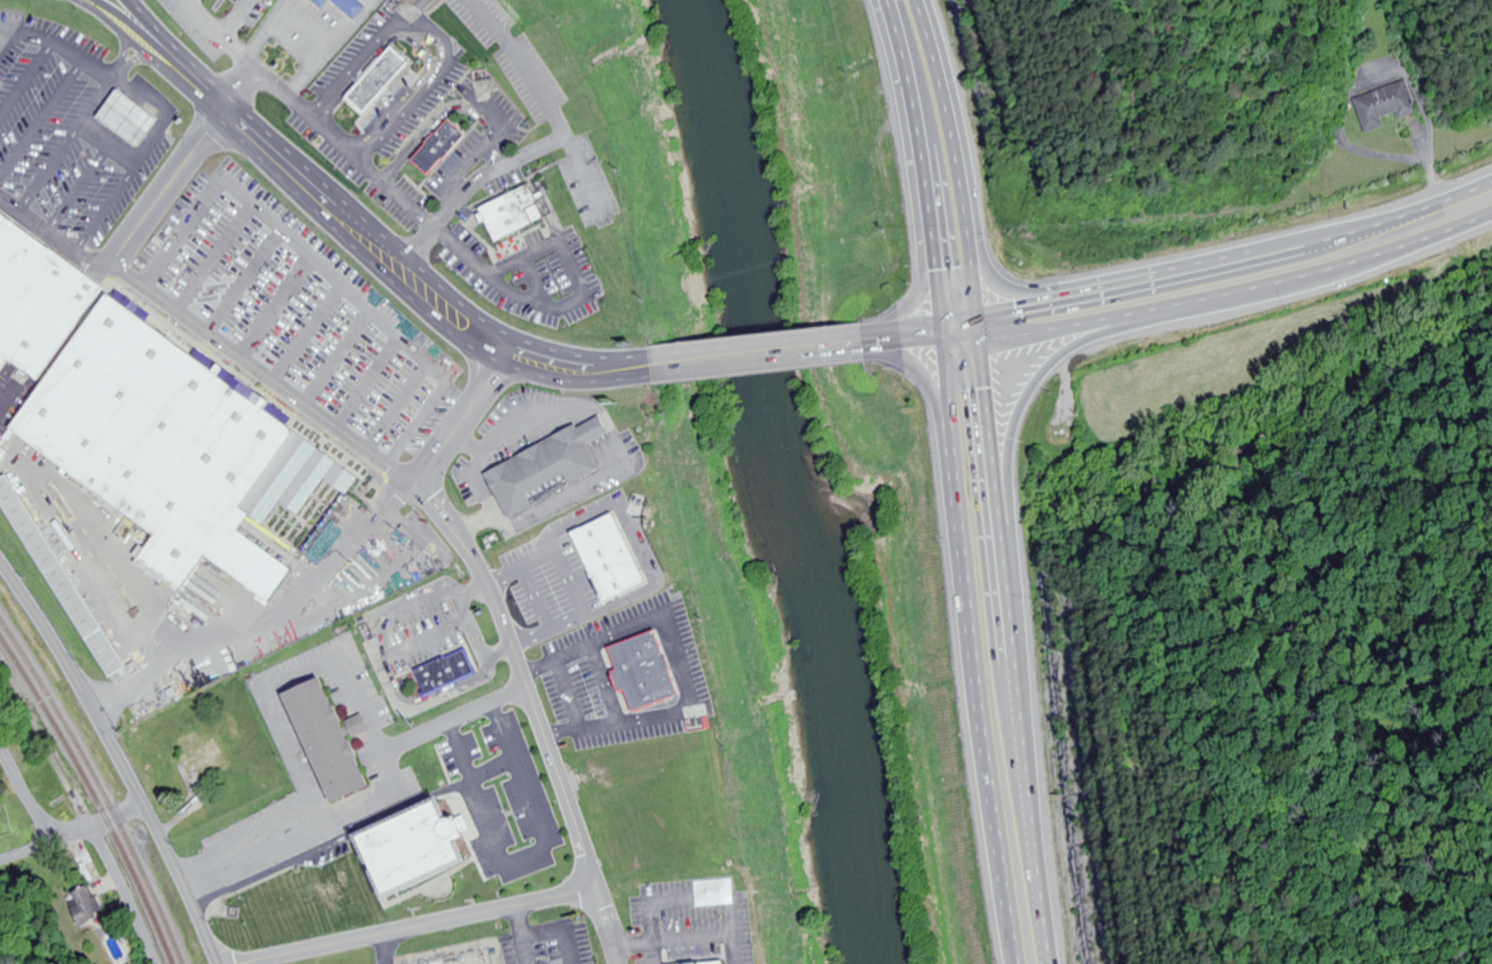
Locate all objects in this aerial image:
building: (346, 9)
road: (413, 9)
road: (236, 18)
road: (152, 23)
road: (268, 30)
road: (1, 35)
road: (125, 37)
road: (430, 38)
road: (61, 45)
road: (333, 50)
road: (145, 51)
road: (25, 78)
building: (382, 79)
road: (549, 104)
building: (1386, 107)
road: (454, 108)
road: (310, 116)
road: (41, 117)
building: (133, 126)
gas station: (133, 126)
road: (72, 135)
building: (443, 147)
road: (922, 167)
road: (464, 169)
road: (959, 170)
road: (472, 188)
building: (515, 212)
road: (352, 227)
road: (924, 236)
road: (55, 237)
building: (1460, 243)
road: (1222, 269)
road: (1341, 270)
road: (535, 280)
road: (991, 282)
building: (25, 287)
road: (569, 305)
traffic signals: (980, 318)
road: (187, 319)
road: (1067, 329)
traffic signals: (950, 337)
road: (909, 338)
traffic signals: (984, 345)
road: (763, 355)
road: (1039, 382)
road: (937, 390)
road: (993, 444)
building: (178, 448)
building: (552, 473)
river: (790, 481)
building: (62, 577)
road: (277, 624)
road: (512, 637)
road: (976, 651)
building: (449, 679)
building: (330, 746)
road: (1026, 753)
building: (203, 755)
road: (118, 757)
railway: (99, 780)
road: (22, 797)
road: (84, 802)
road: (71, 832)
building: (0, 836)
building: (420, 860)
building: (89, 906)
road: (412, 924)

